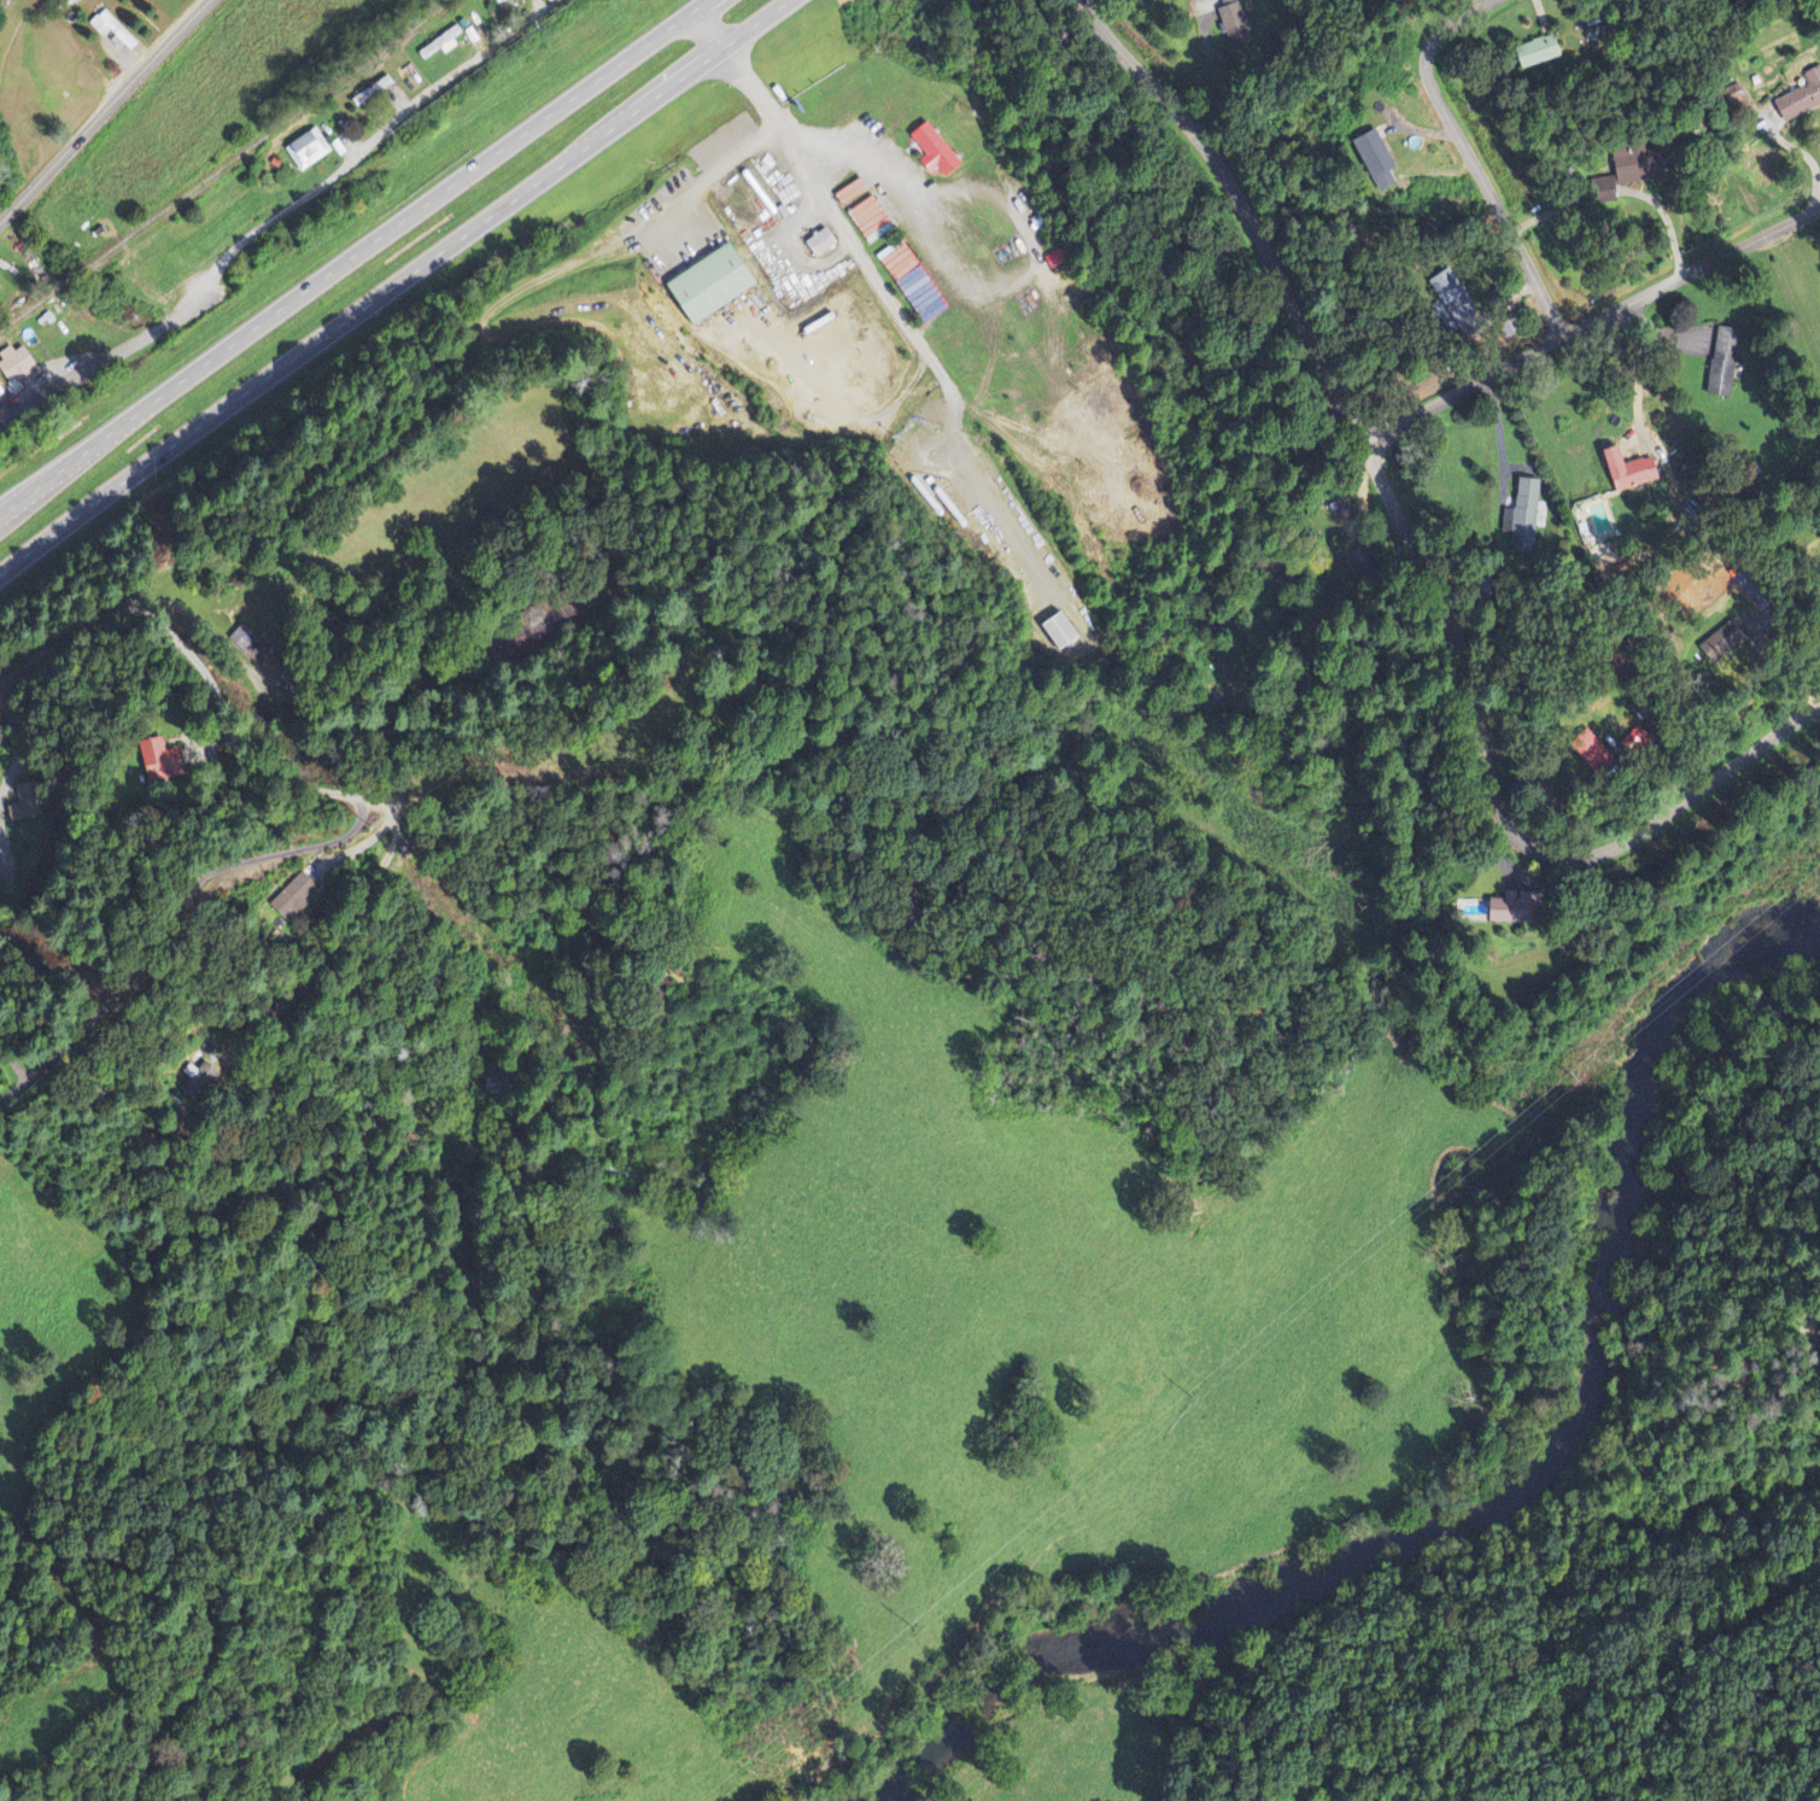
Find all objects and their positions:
road: (713, 23)
building: (1230, 25)
building: (111, 31)
building: (441, 41)
building: (1534, 52)
road: (760, 88)
building: (1799, 97)
road: (105, 111)
building: (305, 150)
building: (931, 151)
road: (1471, 154)
building: (1373, 160)
railway: (223, 163)
building: (1622, 173)
road: (13, 183)
road: (1242, 209)
road: (280, 212)
building: (818, 242)
road: (351, 256)
building: (707, 285)
road: (391, 286)
building: (1450, 300)
road: (1590, 321)
building: (1721, 363)
building: (14, 366)
building: (0, 394)
building: (1625, 470)
building: (1523, 516)
building: (1058, 632)
building: (241, 641)
building: (1586, 750)
building: (160, 761)
road: (1504, 806)
building: (294, 896)
building: (1505, 911)
power tower: (1578, 1074)
building: (201, 1077)
power tower: (1180, 1417)
river: (1505, 1519)

